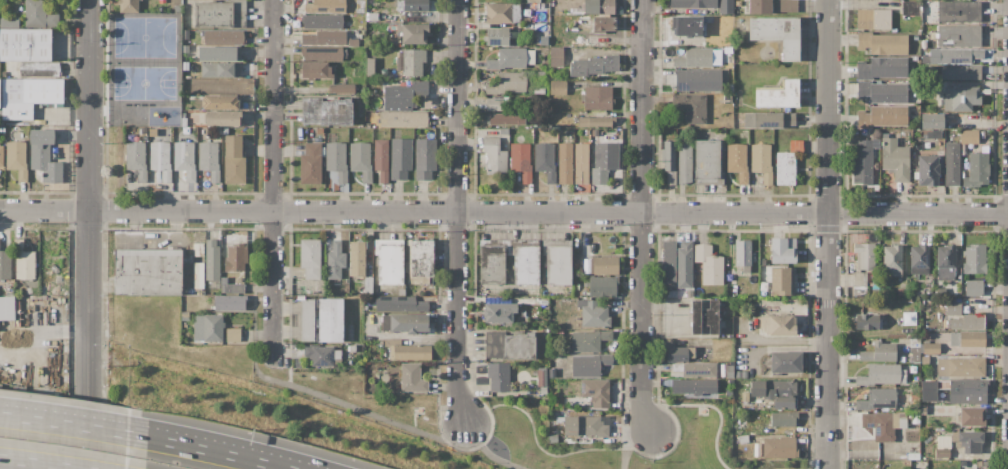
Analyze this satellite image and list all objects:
building: (533, 1)
building: (693, 4)
building: (415, 5)
building: (129, 6)
building: (325, 6)
building: (598, 6)
building: (725, 6)
building: (773, 7)
building: (909, 7)
building: (959, 12)
building: (503, 13)
building: (39, 14)
building: (220, 14)
building: (709, 19)
building: (873, 19)
building: (8, 21)
building: (323, 21)
building: (604, 23)
building: (688, 27)
building: (927, 31)
building: (414, 33)
building: (776, 33)
building: (500, 36)
building: (959, 36)
building: (223, 37)
building: (324, 37)
building: (596, 39)
building: (353, 42)
building: (882, 43)
building: (25, 45)
building: (218, 53)
building: (322, 54)
building: (960, 55)
building: (556, 56)
building: (694, 58)
building: (511, 59)
building: (414, 63)
building: (594, 66)
building: (370, 67)
building: (883, 67)
building: (39, 69)
building: (220, 69)
building: (316, 70)
building: (960, 73)
building: (539, 74)
building: (698, 80)
building: (508, 83)
building: (558, 87)
building: (342, 89)
building: (539, 91)
building: (882, 92)
building: (728, 93)
building: (405, 94)
building: (778, 95)
building: (29, 96)
building: (596, 98)
building: (961, 98)
building: (220, 102)
building: (495, 105)
building: (690, 107)
building: (326, 112)
building: (883, 116)
building: (222, 118)
building: (506, 118)
building: (403, 119)
building: (769, 120)
building: (594, 121)
building: (931, 121)
building: (143, 130)
building: (193, 131)
building: (151, 132)
building: (933, 134)
building: (969, 136)
building: (1, 155)
building: (134, 155)
building: (44, 156)
building: (495, 156)
building: (894, 157)
building: (401, 158)
building: (17, 159)
building: (161, 159)
building: (186, 159)
building: (381, 159)
building: (425, 159)
building: (707, 159)
building: (209, 160)
building: (234, 160)
building: (361, 160)
building: (337, 161)
building: (521, 161)
building: (545, 161)
building: (604, 161)
building: (737, 161)
building: (762, 161)
building: (669, 162)
building: (685, 162)
building: (310, 163)
building: (581, 163)
building: (788, 163)
building: (862, 163)
building: (565, 164)
building: (952, 164)
building: (928, 170)
building: (976, 170)
road: (272, 175)
road: (503, 211)
road: (457, 213)
road: (641, 218)
road: (89, 234)
road: (827, 234)
building: (783, 250)
building: (743, 254)
building: (864, 256)
building: (946, 256)
building: (236, 258)
building: (310, 258)
building: (357, 259)
building: (919, 259)
building: (975, 259)
building: (335, 260)
building: (421, 261)
building: (668, 261)
building: (891, 261)
building: (23, 262)
building: (5, 264)
building: (212, 264)
building: (390, 264)
building: (684, 264)
building: (709, 264)
building: (491, 265)
building: (525, 265)
building: (558, 265)
building: (605, 265)
building: (147, 271)
building: (782, 280)
building: (859, 284)
building: (368, 285)
building: (220, 286)
building: (602, 286)
building: (200, 288)
building: (232, 288)
building: (973, 288)
building: (32, 290)
building: (929, 292)
building: (901, 293)
building: (229, 303)
building: (400, 304)
building: (6, 307)
building: (953, 308)
building: (499, 312)
building: (594, 314)
building: (703, 317)
building: (322, 320)
building: (867, 322)
building: (969, 322)
building: (405, 323)
building: (779, 324)
building: (208, 328)
building: (233, 334)
building: (967, 338)
building: (589, 340)
building: (519, 346)
building: (352, 348)
building: (931, 349)
building: (408, 350)
building: (884, 351)
building: (914, 351)
building: (677, 354)
building: (321, 355)
building: (925, 360)
building: (786, 361)
building: (590, 365)
building: (960, 366)
building: (699, 371)
building: (730, 372)
building: (881, 375)
building: (498, 376)
building: (412, 378)
building: (694, 385)
building: (543, 390)
building: (956, 391)
building: (595, 392)
building: (776, 392)
road: (329, 399)
building: (878, 399)
road: (712, 406)
building: (971, 416)
building: (784, 419)
building: (888, 423)
road: (73, 425)
building: (586, 426)
building: (553, 438)
building: (743, 439)
road: (535, 440)
building: (968, 441)
road: (478, 443)
road: (630, 445)
building: (780, 447)
road: (215, 451)
building: (942, 453)
building: (913, 457)
road: (39, 463)

